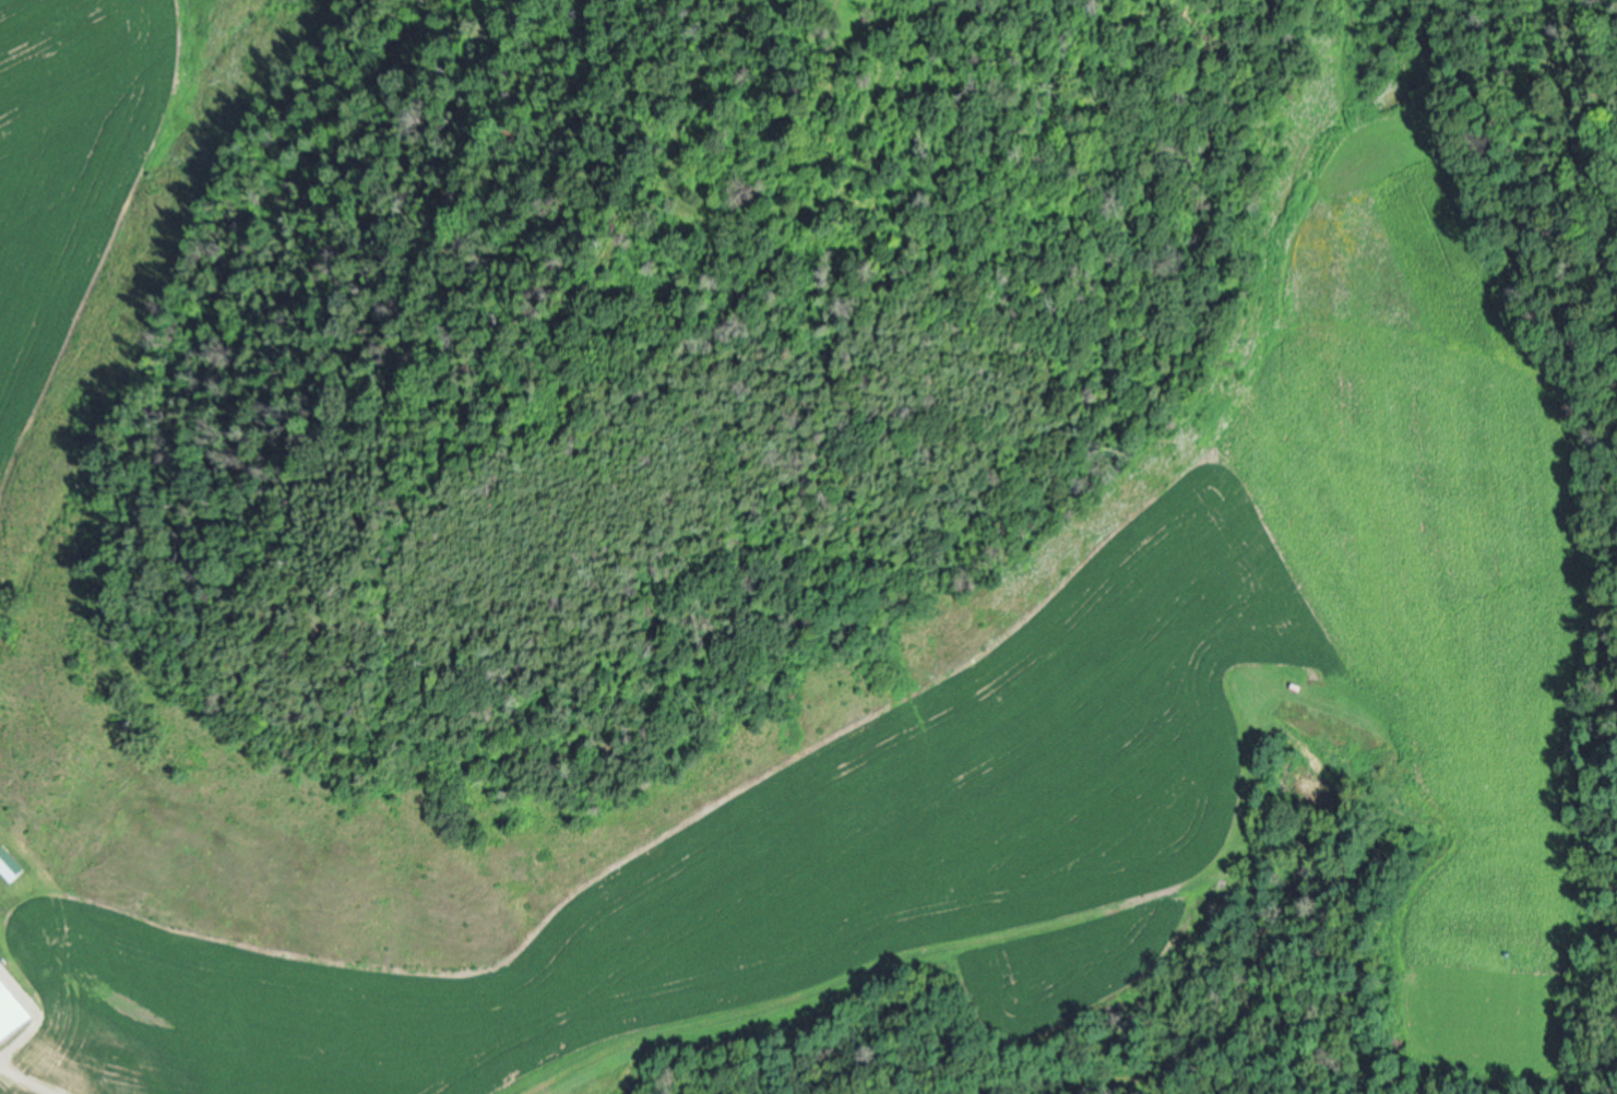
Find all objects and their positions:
building: (8, 866)
building: (10, 1011)

